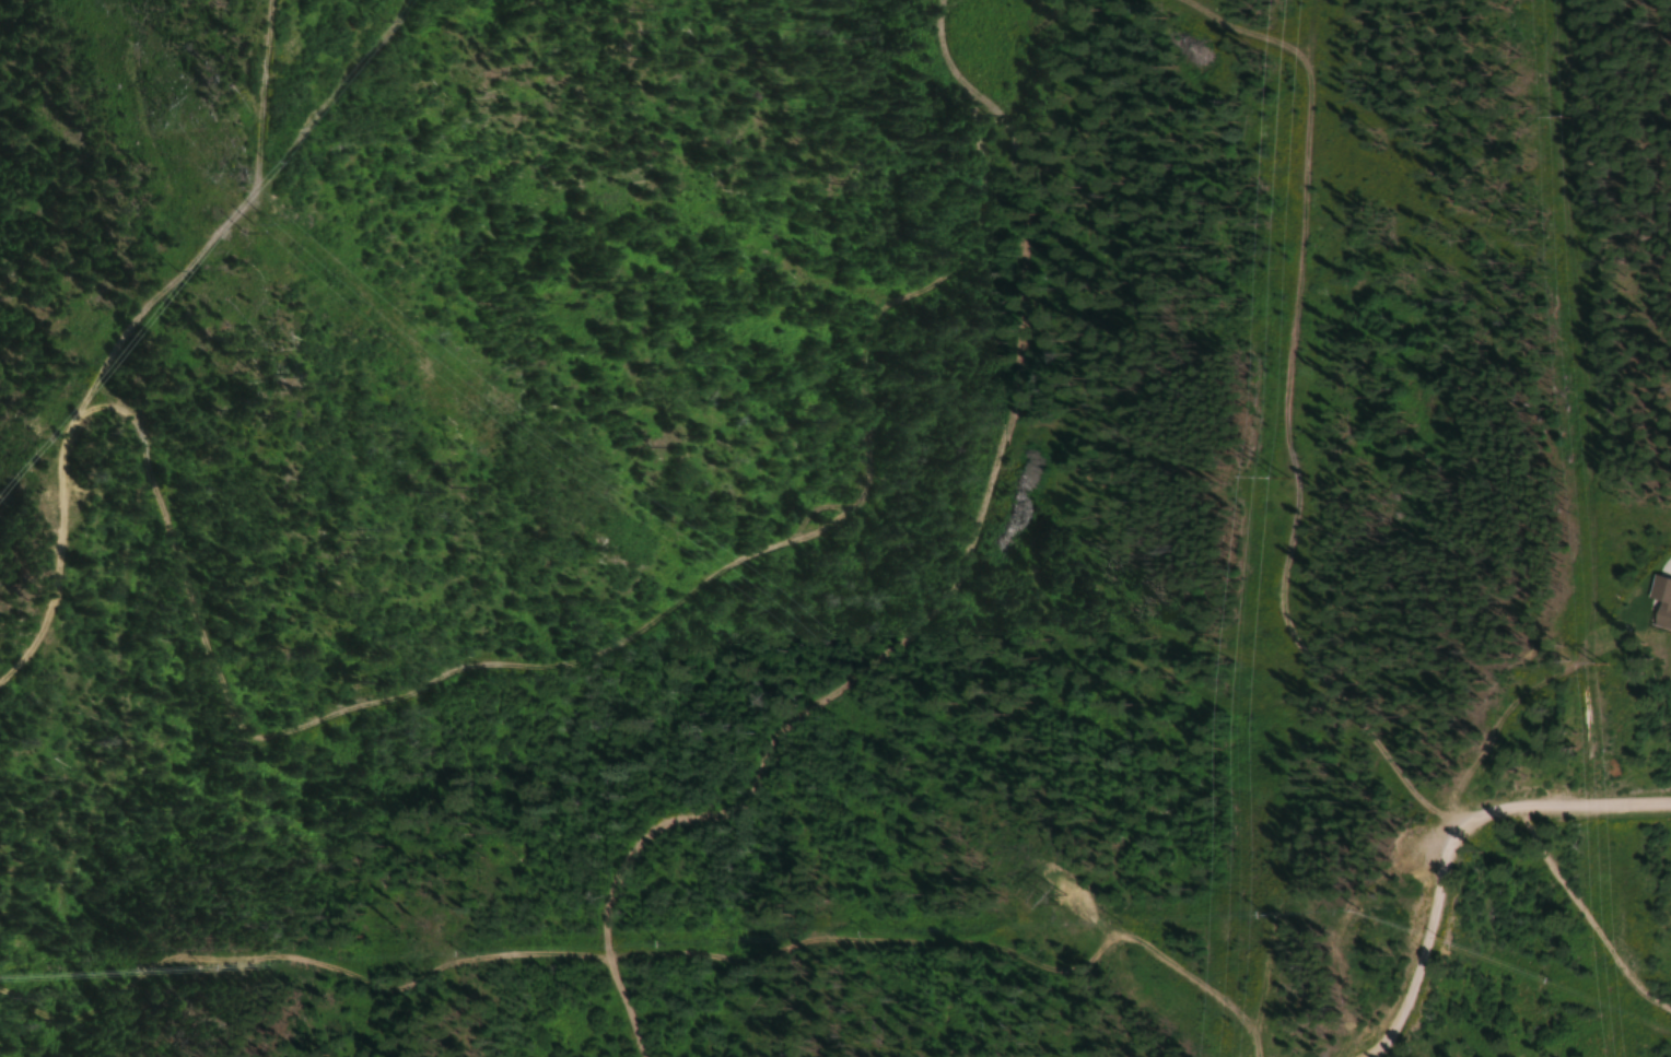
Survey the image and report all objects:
power tower: (1284, 478)
building: (1667, 586)
building: (1669, 620)
road: (1450, 842)

